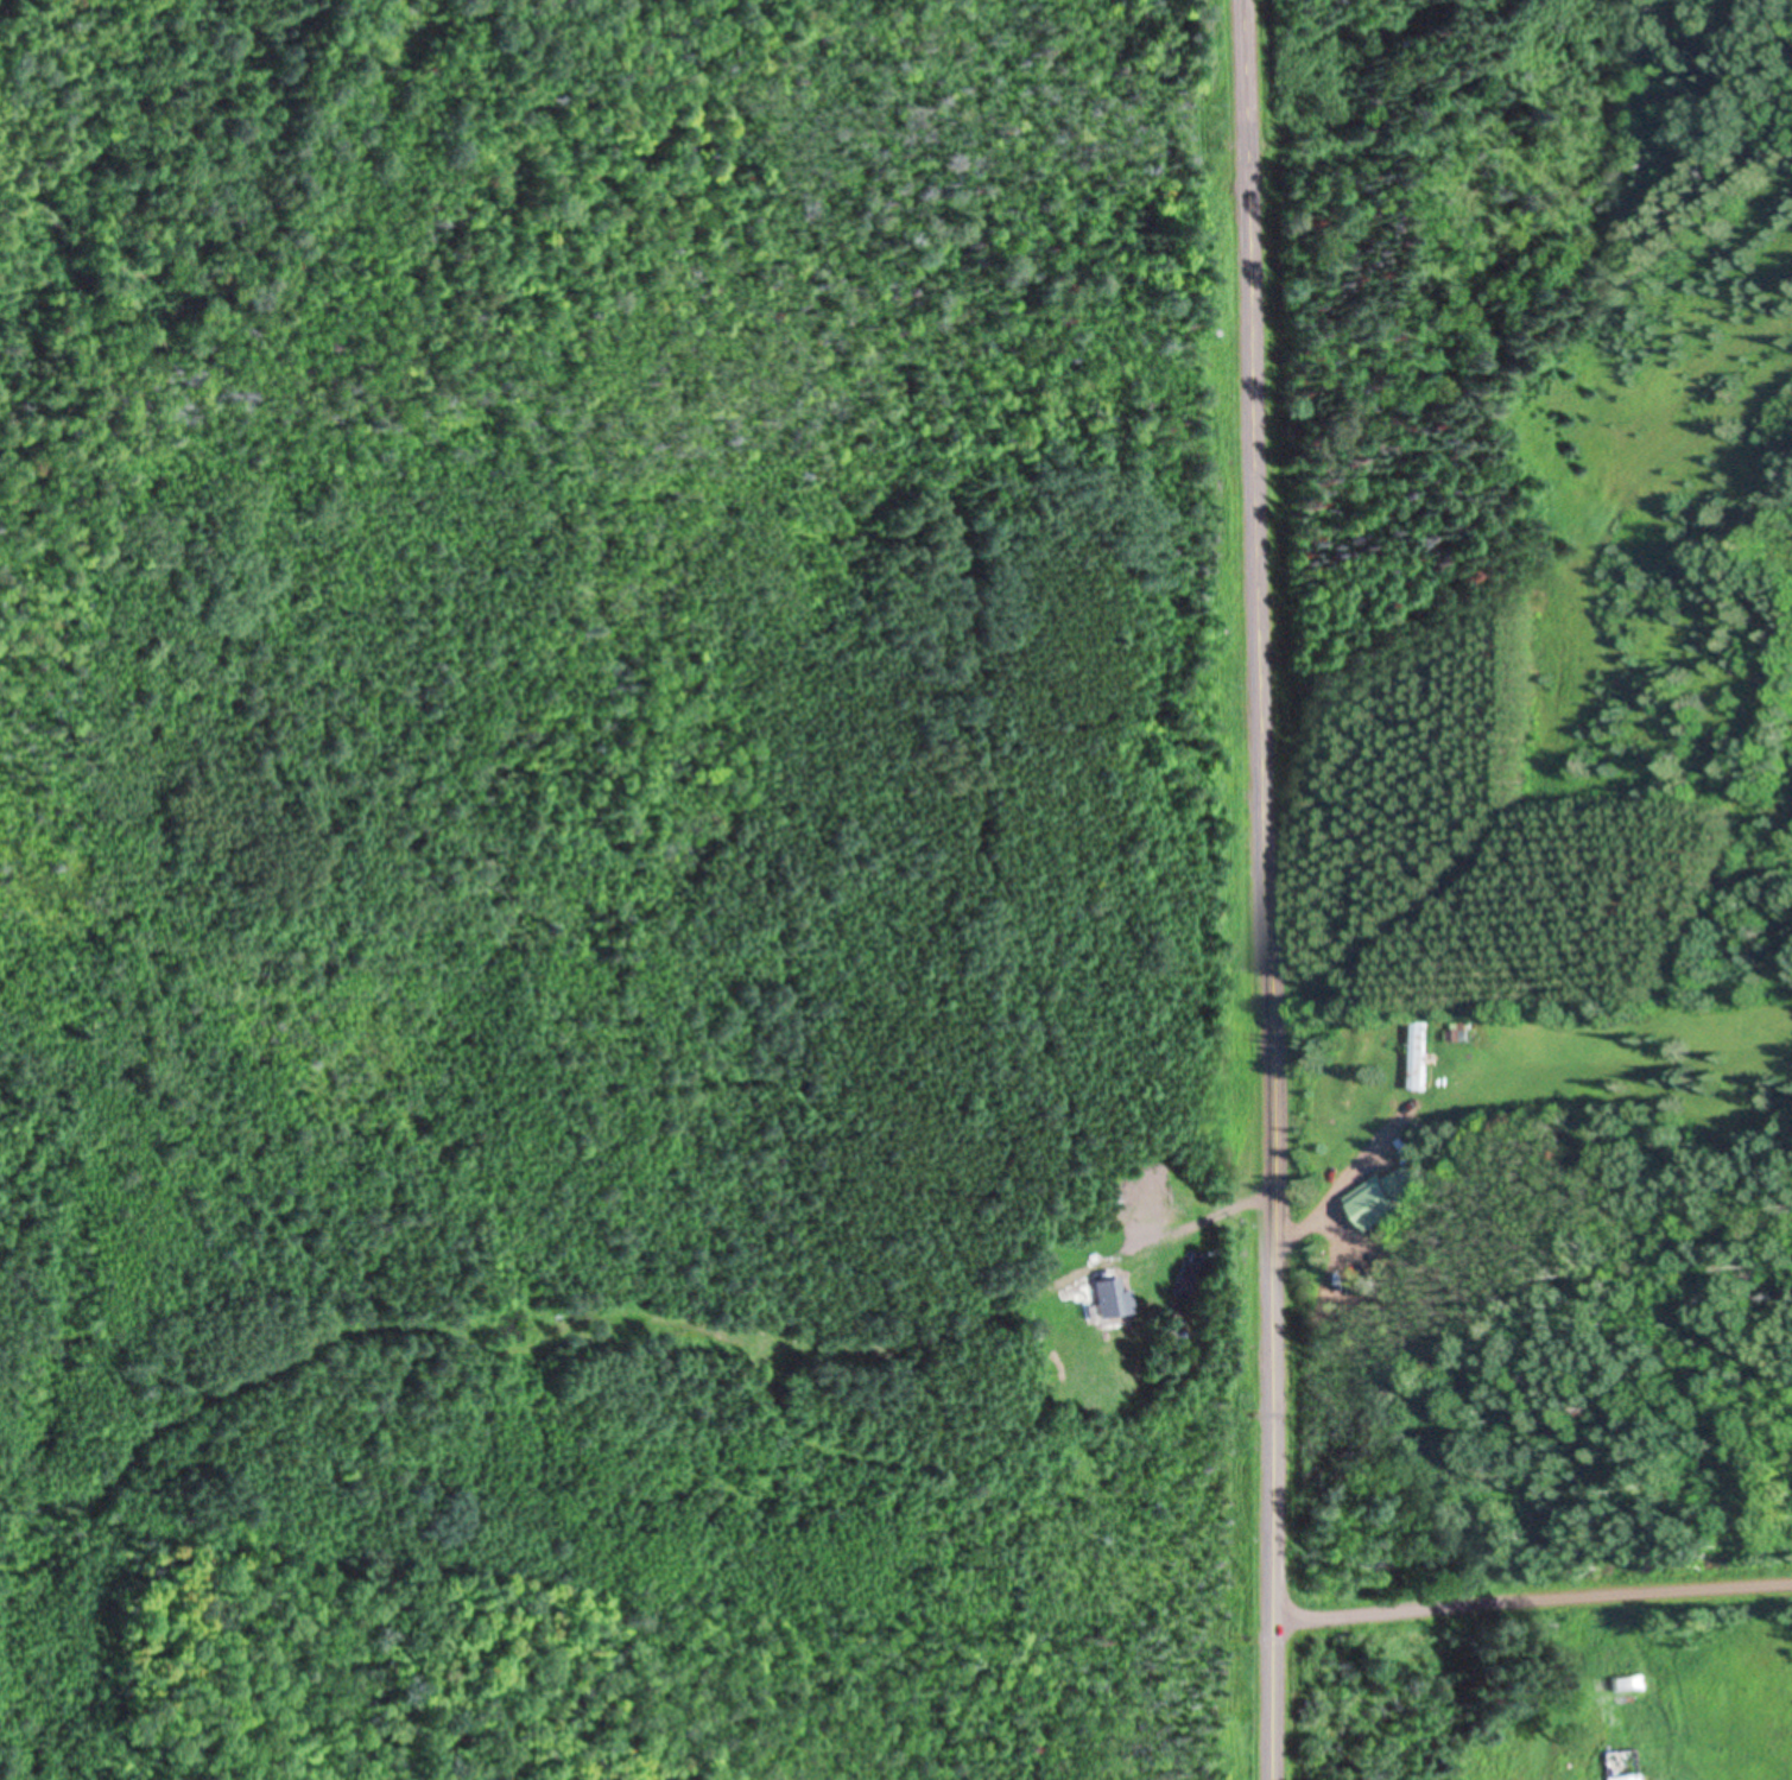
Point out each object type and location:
road: (1273, 889)
building: (1418, 1059)
building: (1192, 1269)
building: (1116, 1298)
road: (1533, 1611)
building: (1622, 1767)

